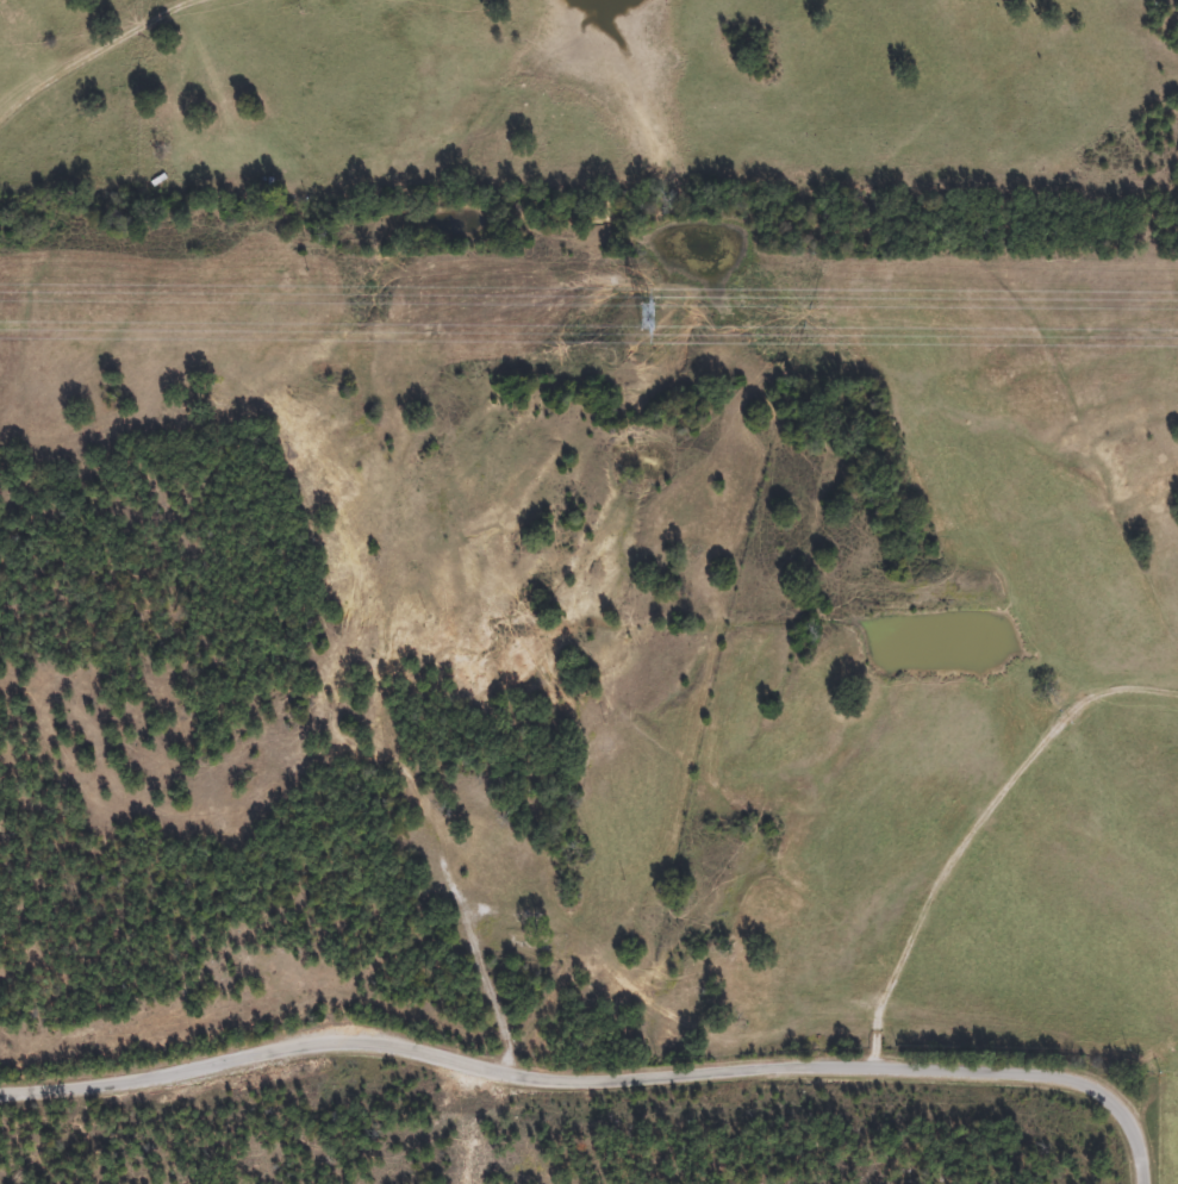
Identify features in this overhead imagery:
road: (98, 52)
power tower: (644, 316)
road: (973, 828)
road: (611, 1079)

